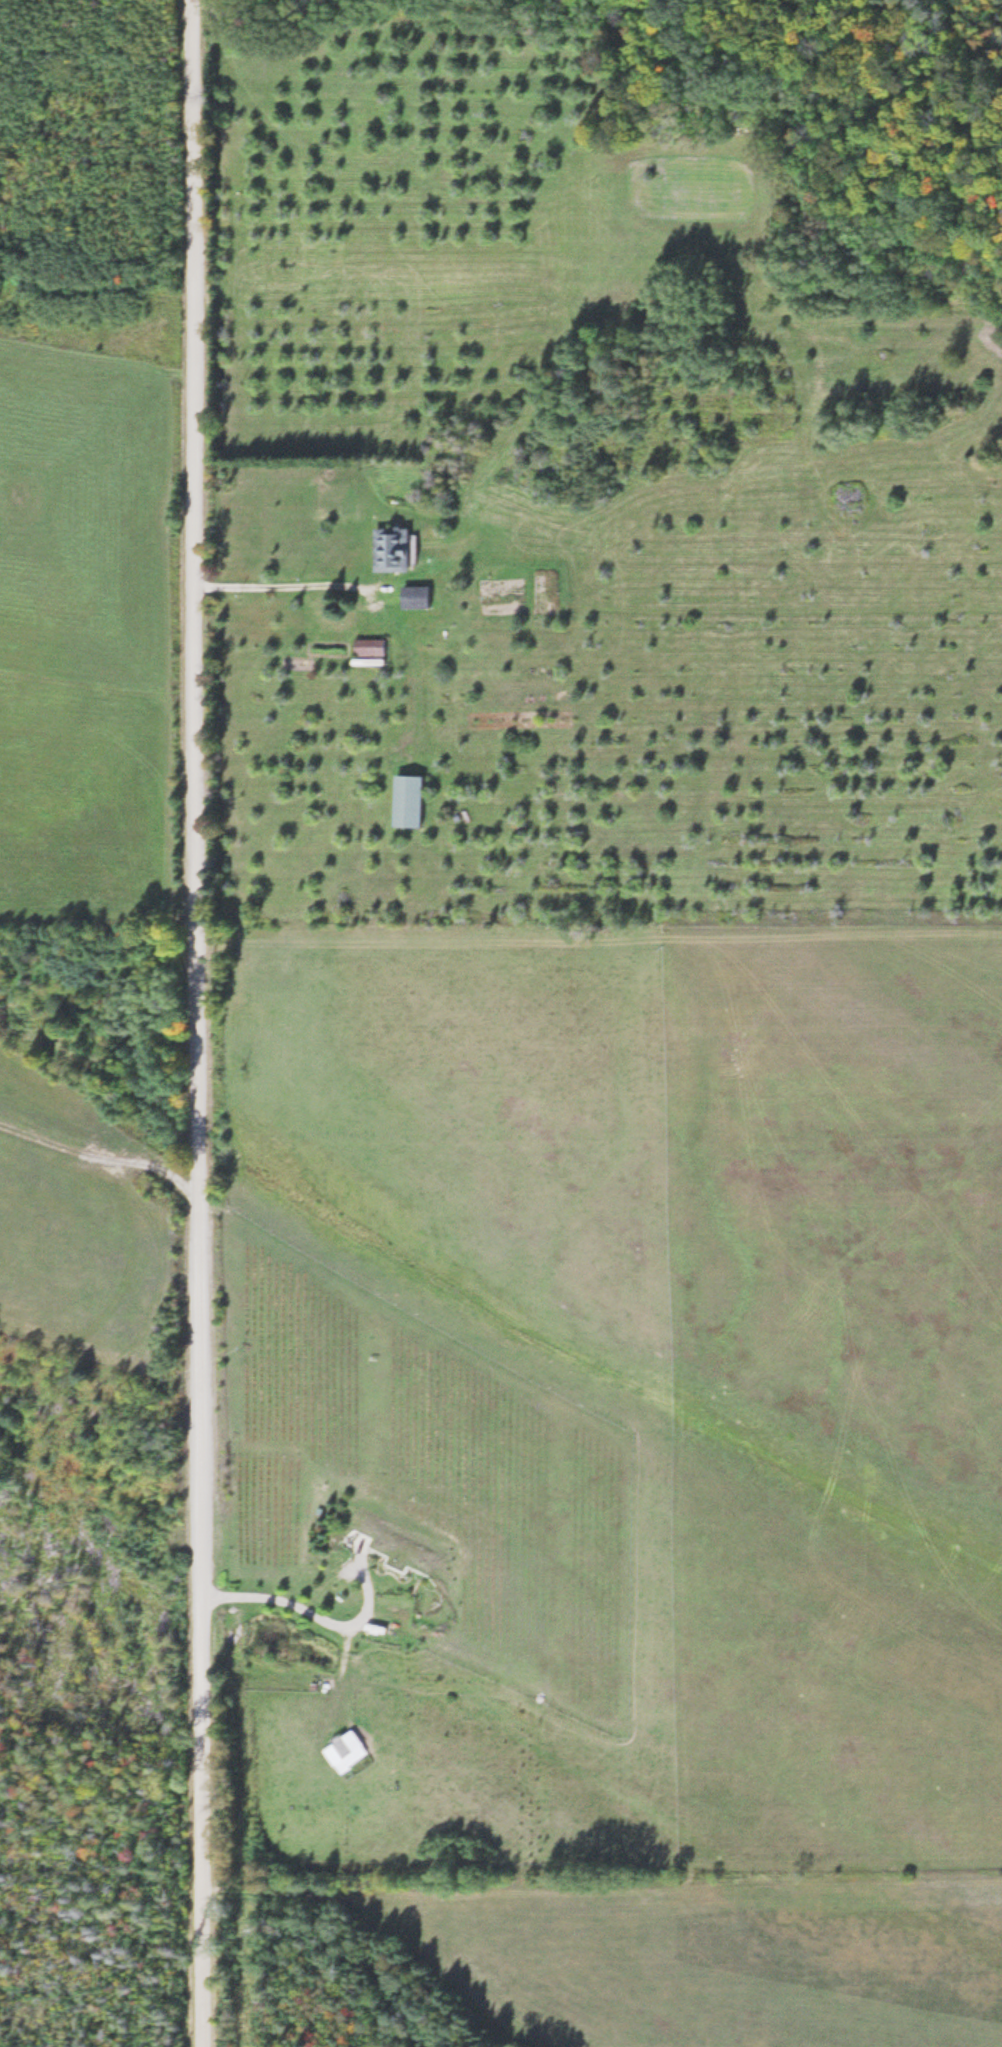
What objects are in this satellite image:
building: (398, 552)
building: (419, 600)
building: (375, 650)
building: (413, 803)
road: (198, 1023)
building: (362, 1755)

